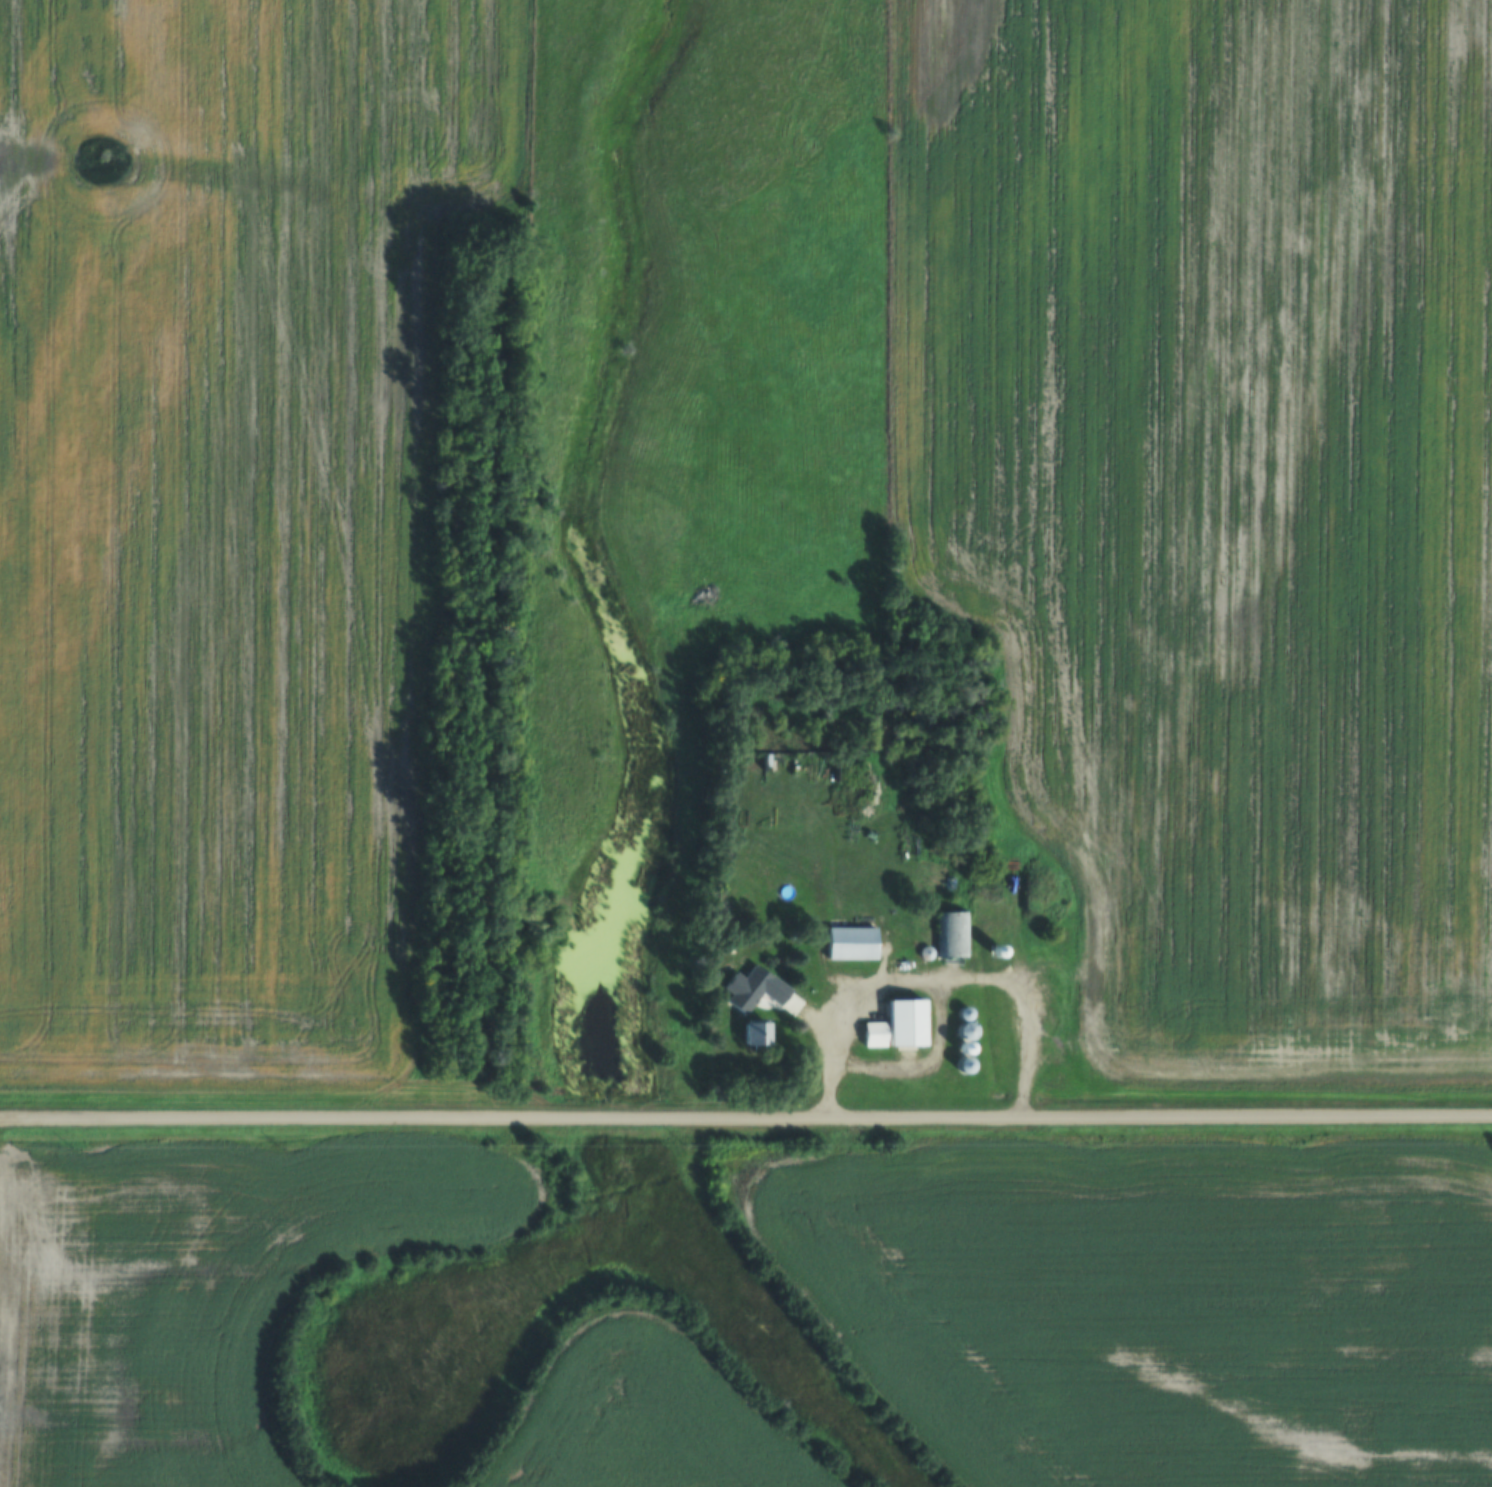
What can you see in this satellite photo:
building: (951, 934)
building: (849, 944)
road: (940, 978)
building: (904, 1023)
building: (964, 1028)
building: (872, 1034)
building: (753, 1035)
building: (963, 1066)
road: (746, 1116)

